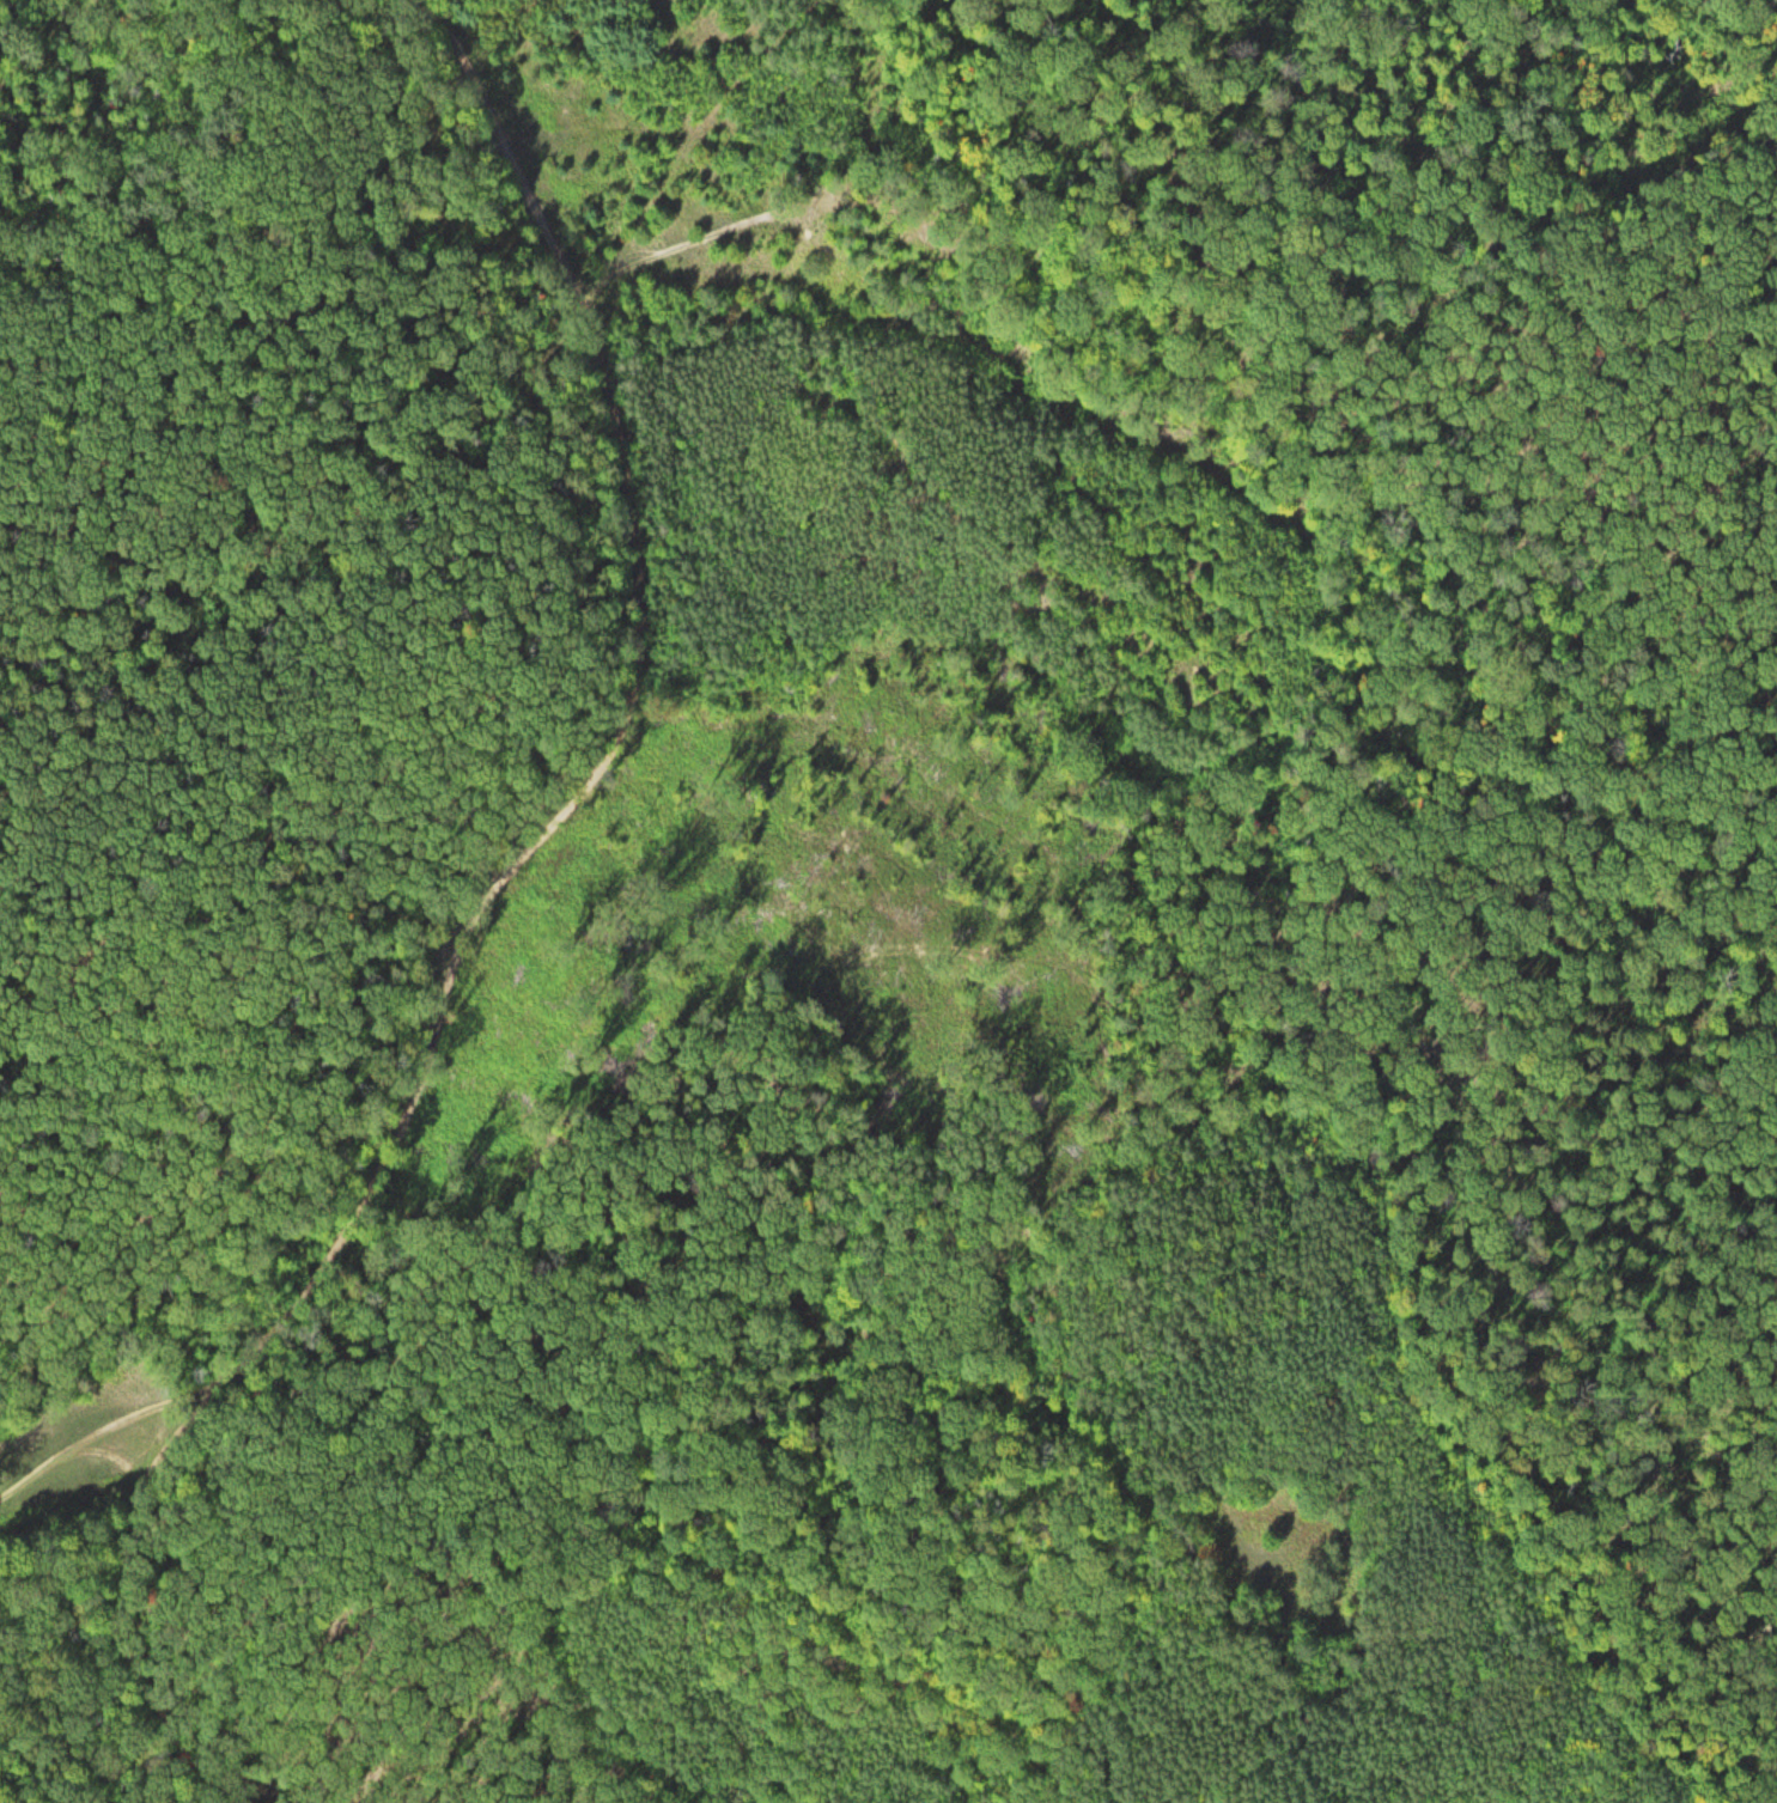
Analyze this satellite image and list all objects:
road: (583, 820)

